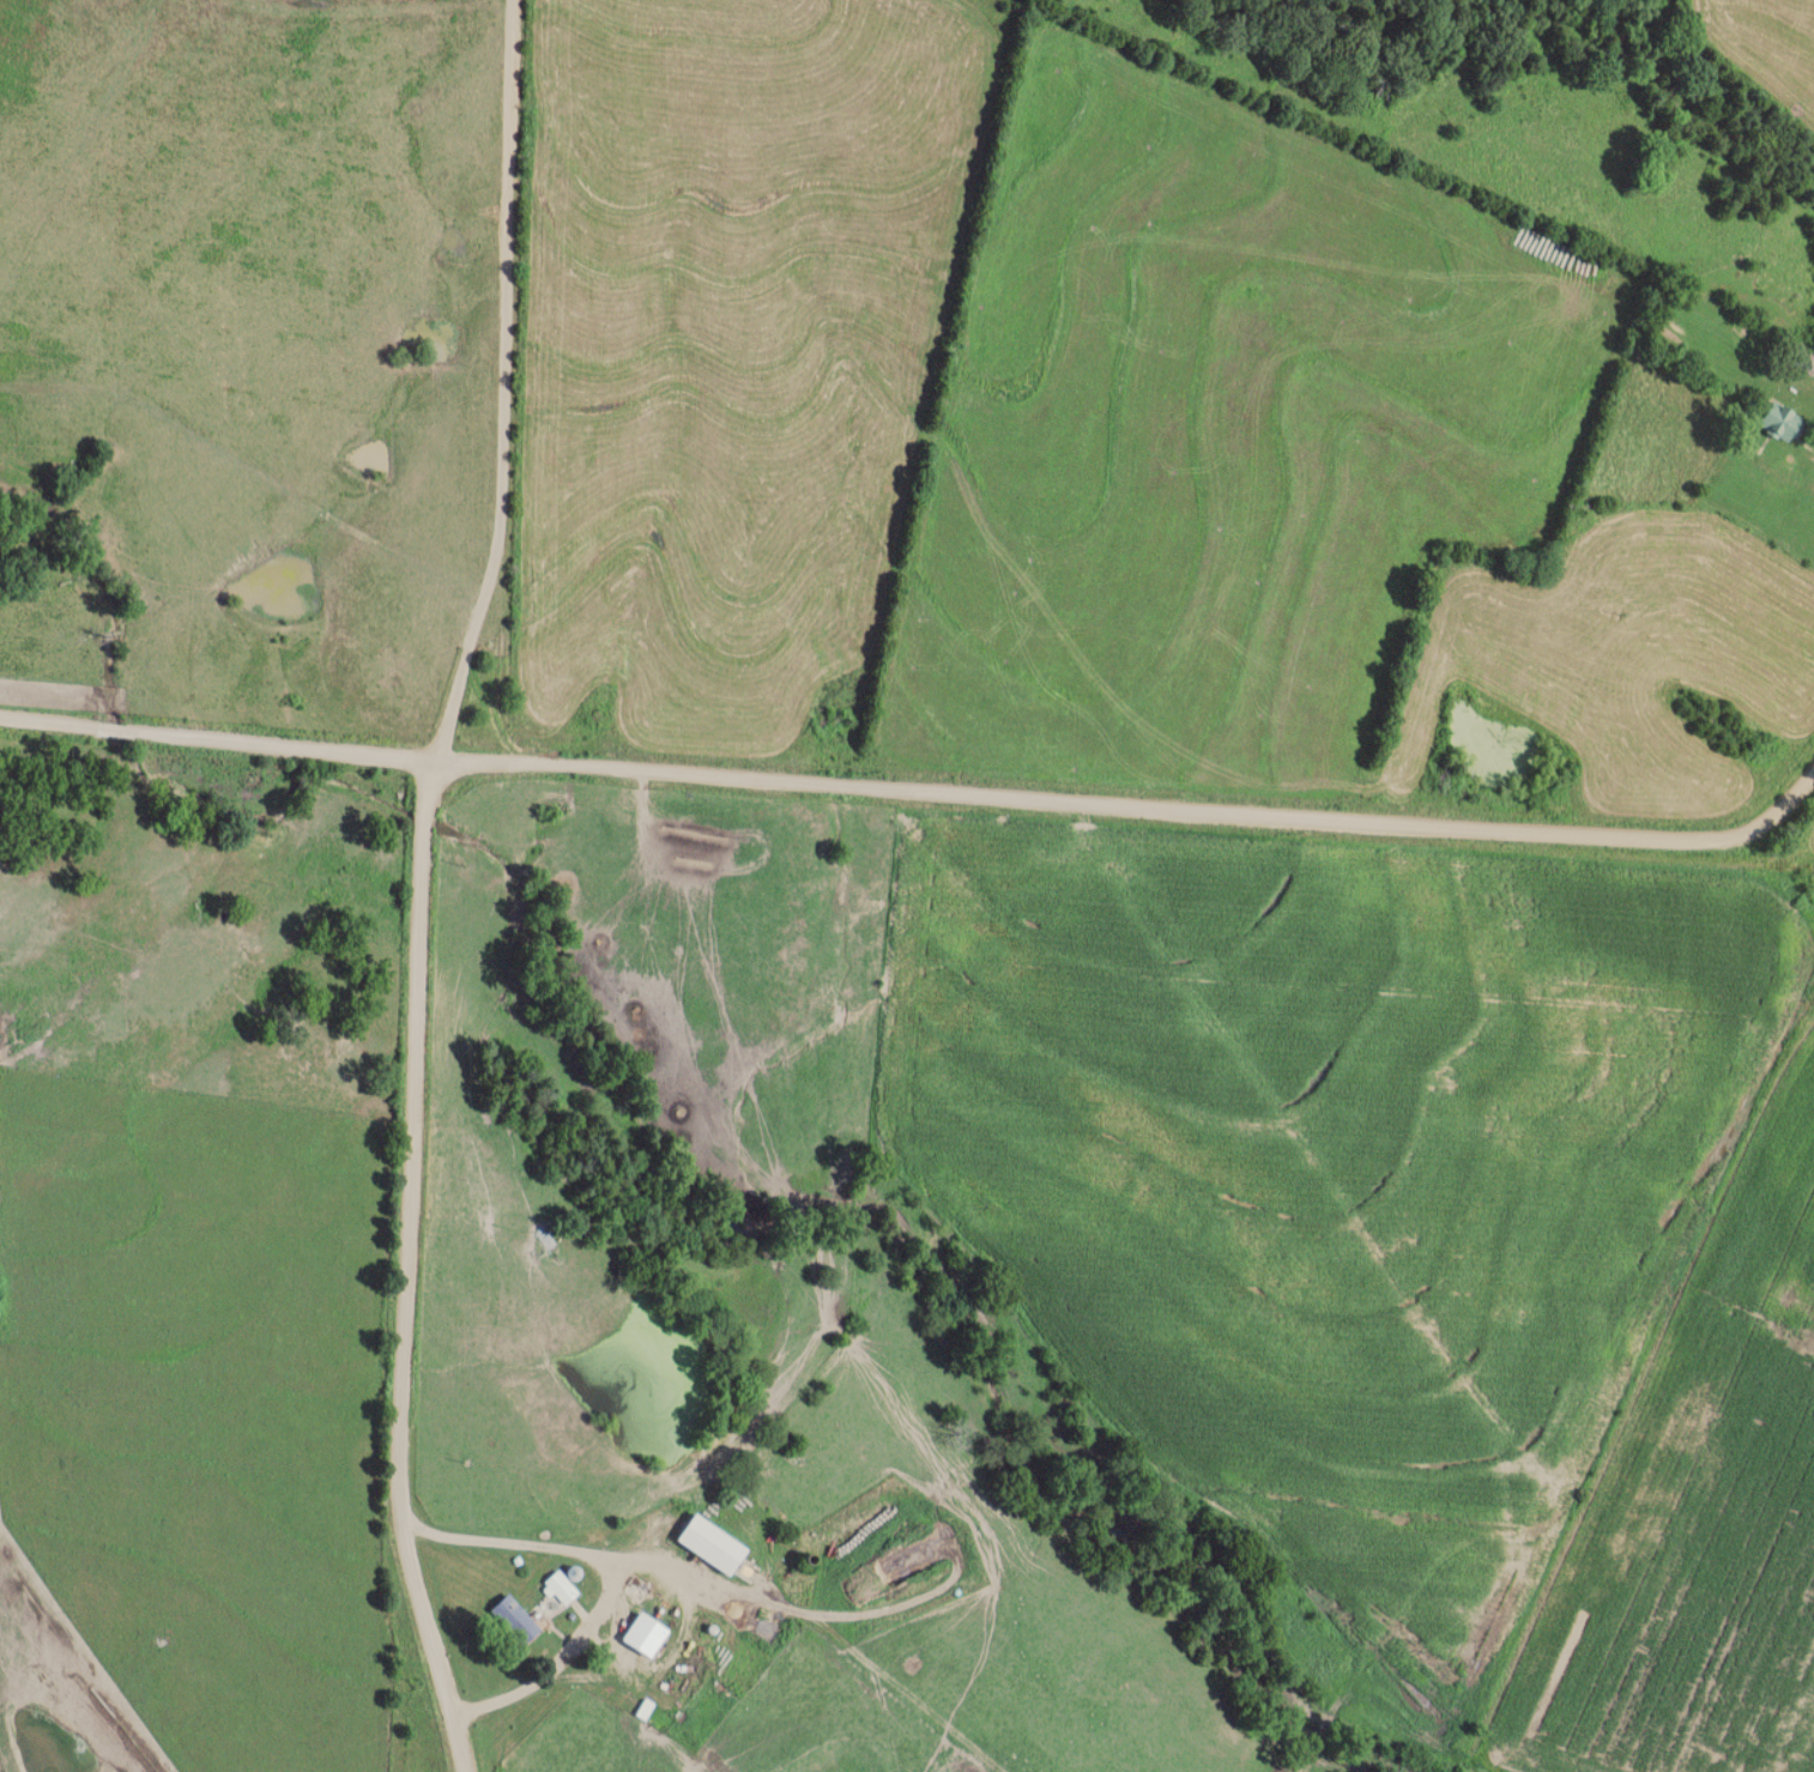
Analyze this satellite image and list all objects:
building: (1803, 361)
road: (503, 385)
building: (1774, 422)
road: (919, 792)
building: (532, 1252)
road: (410, 1270)
building: (708, 1543)
road: (604, 1574)
building: (561, 1586)
building: (513, 1620)
building: (642, 1635)

